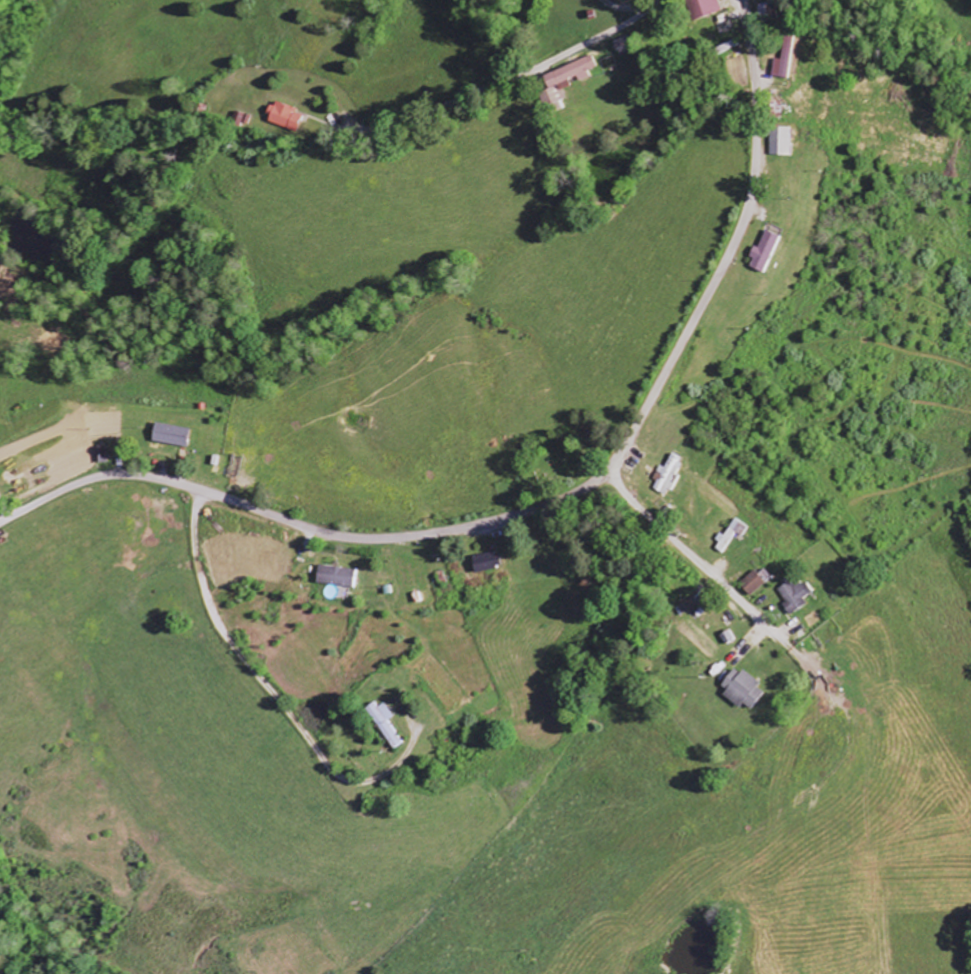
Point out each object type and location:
building: (704, 8)
building: (785, 60)
road: (515, 81)
building: (284, 117)
building: (781, 142)
road: (733, 248)
building: (765, 253)
building: (170, 436)
building: (668, 476)
road: (301, 525)
building: (732, 535)
road: (690, 551)
building: (486, 563)
building: (335, 578)
building: (755, 583)
building: (798, 595)
building: (742, 690)
building: (382, 723)

